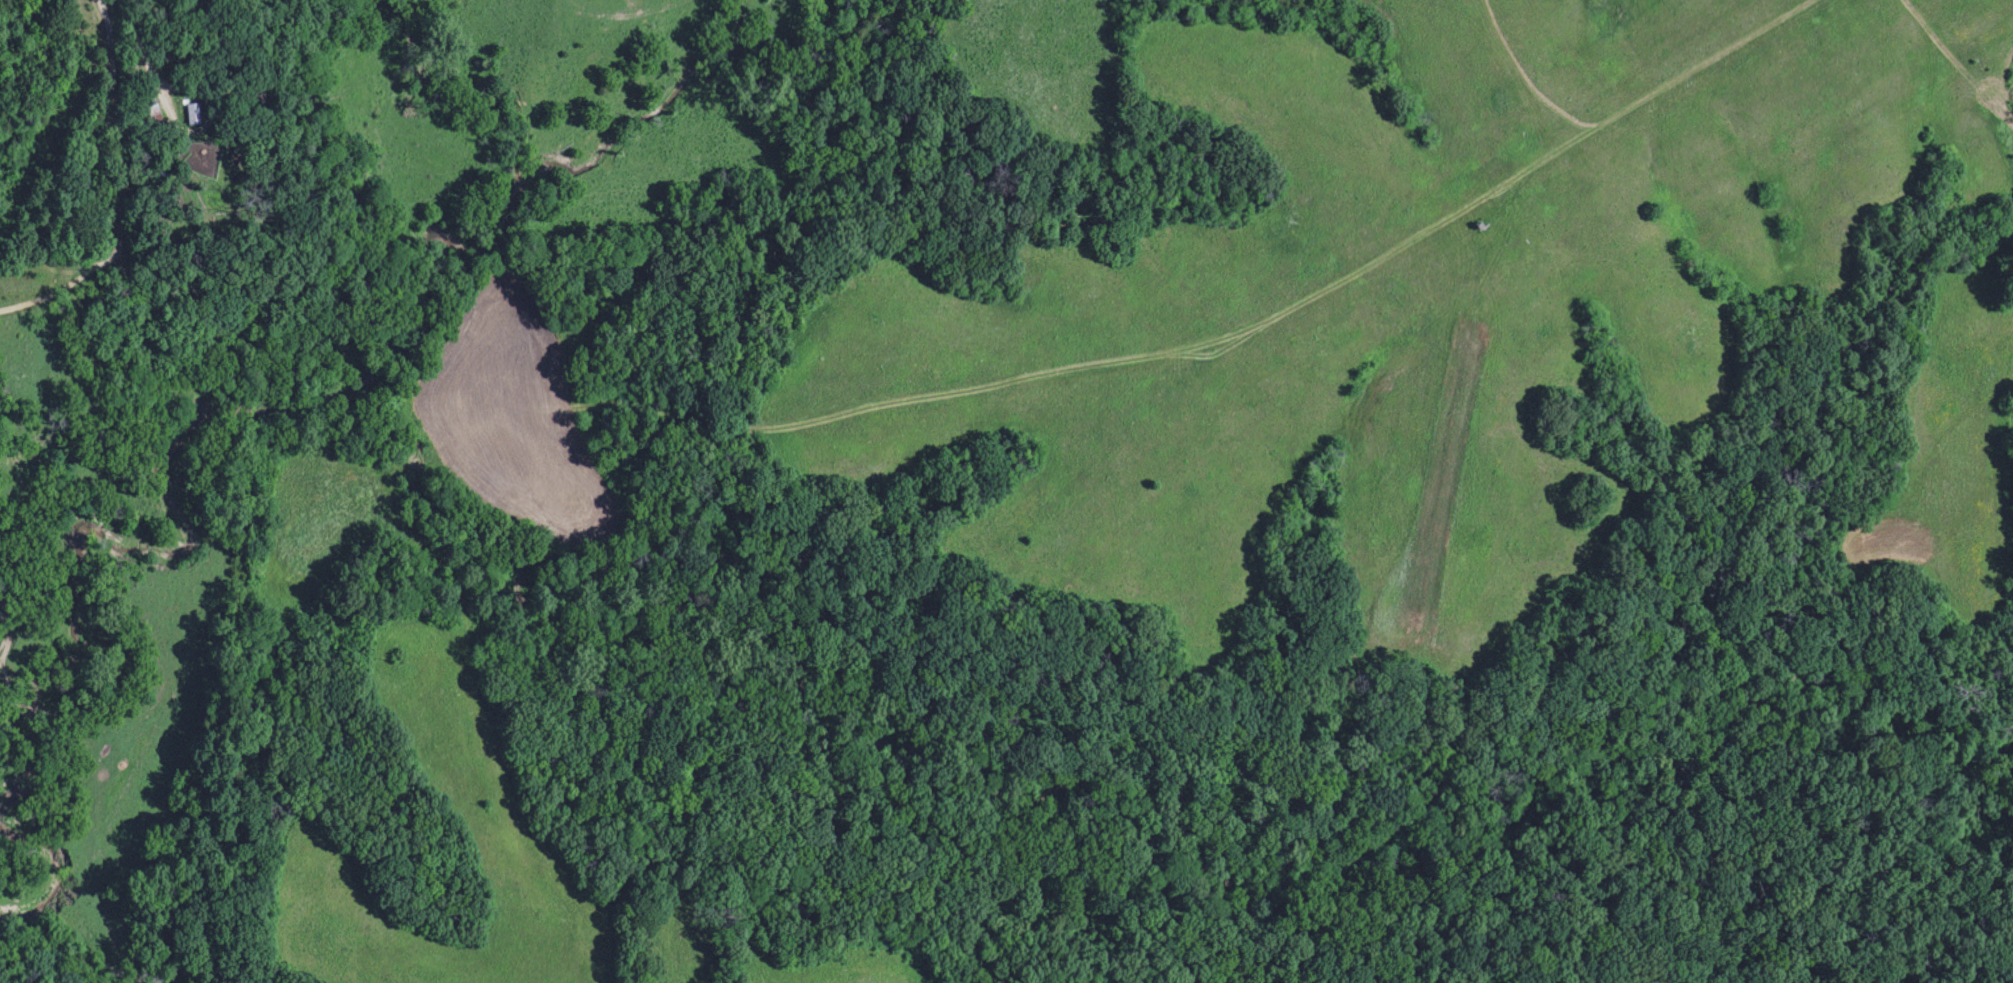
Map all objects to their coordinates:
building: (155, 47)
building: (192, 113)
road: (167, 197)
road: (10, 628)

